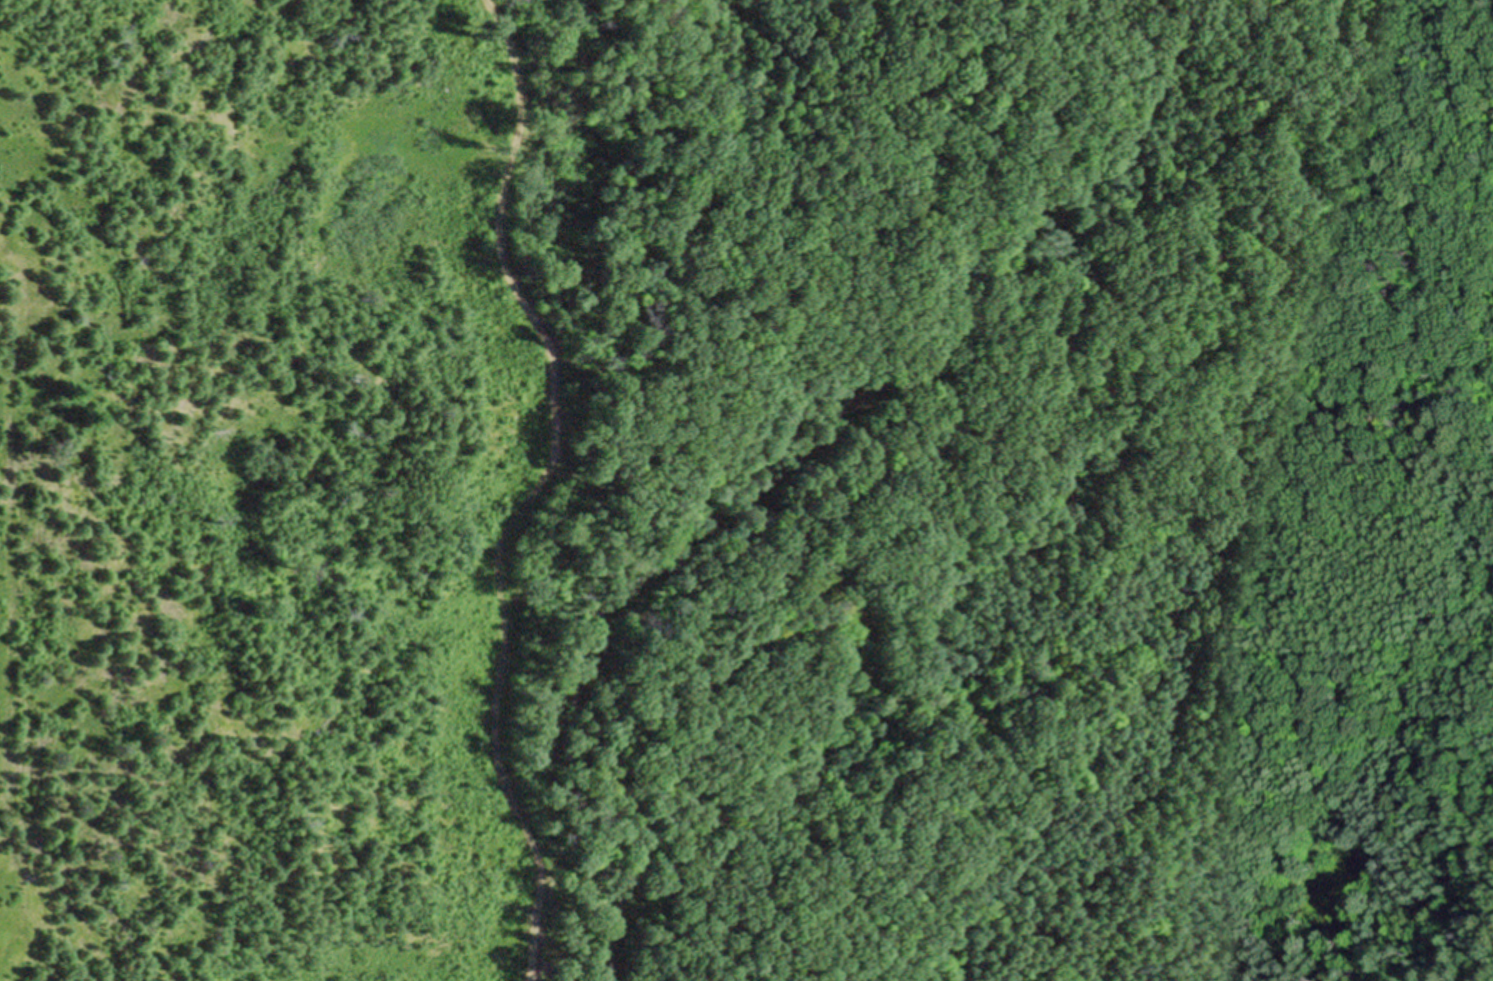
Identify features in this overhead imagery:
road: (541, 490)

